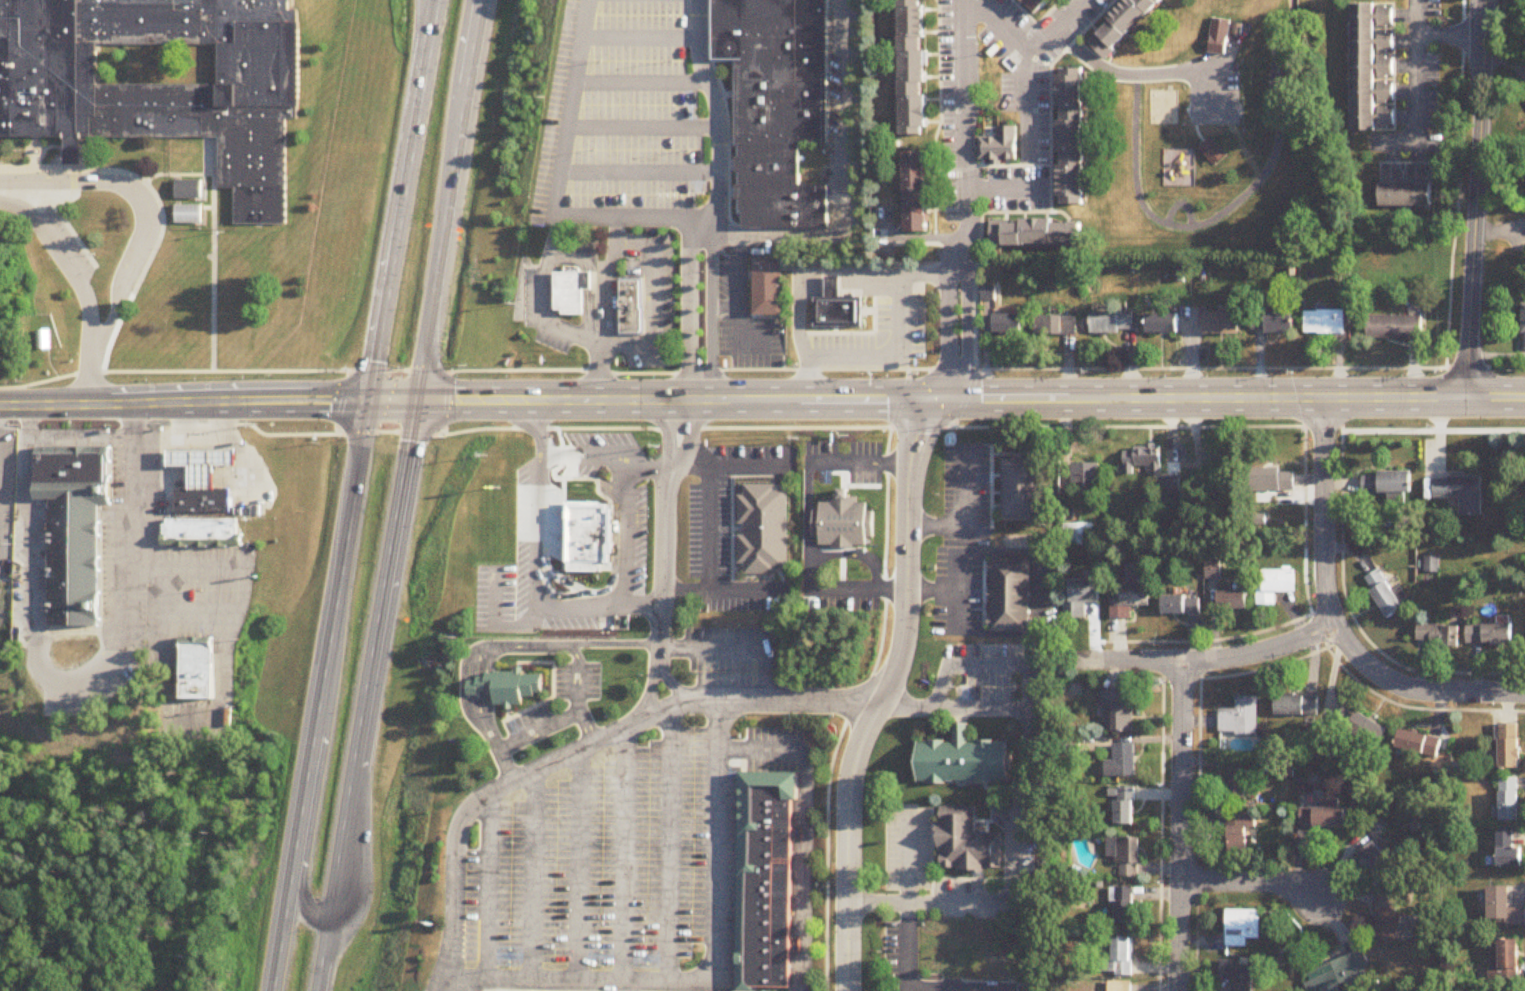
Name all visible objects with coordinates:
building: (1038, 4)
parking lot: (641, 16)
building: (1121, 24)
road: (1036, 26)
road: (1000, 28)
road: (1450, 35)
building: (1219, 38)
road: (641, 41)
road: (5, 43)
parking lot: (637, 61)
building: (1365, 64)
park: (158, 65)
building: (775, 66)
building: (913, 67)
road: (456, 74)
road: (470, 75)
road: (1129, 77)
building: (161, 81)
road: (643, 83)
road: (1415, 92)
road: (730, 96)
parking lot: (638, 107)
park: (1215, 108)
road: (718, 109)
road: (1028, 109)
parking lot: (554, 113)
road: (727, 119)
road: (939, 120)
road: (644, 128)
building: (1073, 130)
park: (1197, 136)
building: (996, 139)
parking lot: (637, 151)
building: (1213, 154)
road: (74, 157)
road: (212, 158)
road: (732, 166)
road: (640, 171)
road: (562, 172)
road: (133, 178)
road: (843, 182)
road: (73, 183)
building: (187, 186)
building: (777, 188)
building: (915, 191)
road: (732, 194)
road: (48, 195)
parking lot: (633, 195)
building: (1403, 195)
road: (194, 199)
road: (1226, 199)
road: (403, 200)
road: (1476, 201)
road: (32, 203)
road: (143, 203)
road: (966, 204)
road: (1051, 207)
building: (187, 210)
road: (1458, 210)
road: (1060, 214)
road: (701, 220)
road: (68, 231)
road: (213, 231)
building: (1033, 233)
road: (912, 239)
road: (61, 261)
road: (733, 267)
road: (437, 276)
road: (813, 282)
building: (765, 283)
road: (590, 285)
building: (569, 289)
road: (656, 296)
parking lot: (651, 297)
road: (547, 300)
road: (723, 300)
building: (629, 302)
road: (606, 310)
road: (689, 310)
road: (713, 310)
building: (837, 310)
parking lot: (546, 311)
parking lot: (743, 316)
building: (1327, 319)
building: (1114, 320)
building: (1223, 320)
building: (1272, 320)
park: (46, 321)
building: (1011, 321)
building: (1063, 322)
building: (1166, 322)
building: (1399, 322)
building: (1524, 328)
road: (743, 339)
parking lot: (874, 339)
building: (44, 341)
road: (895, 348)
road: (1496, 357)
park: (11, 364)
road: (50, 367)
road: (731, 372)
road: (88, 374)
road: (905, 386)
traffic signals: (371, 401)
road: (393, 401)
traffic signals: (415, 401)
road: (734, 401)
road: (1289, 401)
road: (185, 405)
road: (186, 420)
road: (118, 427)
road: (252, 428)
road: (1300, 428)
road: (579, 430)
road: (191, 435)
road: (64, 439)
parking lot: (598, 442)
parking lot: (821, 449)
parking lot: (864, 450)
road: (583, 455)
parking lot: (755, 456)
building: (1144, 458)
building: (204, 462)
road: (644, 470)
road: (730, 470)
building: (73, 472)
parking lot: (574, 473)
building: (1086, 473)
road: (808, 476)
parking lot: (817, 478)
parking lot: (867, 479)
building: (1277, 481)
building: (1023, 484)
building: (1389, 485)
building: (1172, 487)
building: (1462, 492)
building: (204, 500)
road: (134, 515)
road: (968, 517)
road: (351, 520)
building: (843, 520)
parking lot: (553, 522)
building: (757, 523)
road: (659, 527)
building: (200, 531)
building: (583, 531)
road: (707, 531)
parking lot: (691, 532)
parking lot: (721, 532)
road: (622, 534)
building: (1079, 534)
road: (540, 536)
parking lot: (636, 538)
road: (33, 541)
parking lot: (517, 555)
building: (76, 559)
road: (185, 570)
building: (1214, 570)
building: (1277, 586)
road: (859, 590)
road: (723, 592)
road: (933, 592)
building: (1010, 592)
road: (957, 593)
building: (1385, 594)
building: (1083, 596)
parking lot: (482, 599)
building: (1131, 599)
building: (1234, 601)
road: (1346, 602)
park: (446, 605)
building: (1182, 605)
road: (637, 606)
parking lot: (736, 607)
road: (176, 618)
road: (1331, 620)
road: (499, 626)
road: (1318, 633)
parking lot: (729, 635)
building: (1491, 635)
building: (1440, 636)
road: (166, 638)
road: (612, 645)
road: (522, 646)
road: (735, 650)
parking lot: (989, 652)
road: (1220, 658)
road: (371, 659)
park: (1087, 662)
road: (990, 664)
building: (200, 668)
road: (225, 672)
parking lot: (721, 673)
road: (37, 674)
building: (505, 677)
road: (580, 677)
road: (477, 678)
road: (1181, 680)
road: (669, 683)
parking lot: (986, 688)
road: (651, 691)
road: (862, 696)
road: (886, 696)
building: (1297, 706)
building: (1119, 709)
road: (1415, 709)
building: (1240, 722)
road: (486, 726)
building: (1363, 727)
road: (589, 729)
road: (540, 733)
parking lot: (773, 735)
building: (1420, 743)
building: (1510, 747)
road: (582, 751)
building: (963, 756)
building: (1123, 761)
road: (508, 768)
road: (1199, 769)
building: (1237, 783)
road: (320, 785)
building: (769, 789)
building: (1510, 799)
building: (1125, 806)
road: (303, 815)
building: (1324, 816)
road: (1014, 817)
road: (1160, 817)
building: (765, 819)
road: (1179, 826)
building: (1379, 829)
road: (803, 832)
building: (1240, 832)
building: (965, 838)
parking lot: (692, 839)
building: (765, 843)
road: (671, 844)
road: (931, 844)
parking lot: (922, 849)
building: (1128, 850)
parking lot: (891, 851)
building: (1509, 851)
road: (626, 853)
parking lot: (647, 858)
building: (1375, 860)
road: (581, 864)
parking lot: (602, 866)
building: (765, 869)
parking lot: (557, 873)
road: (536, 875)
road: (977, 876)
road: (962, 880)
road: (1249, 884)
parking lot: (512, 885)
road: (490, 886)
parking lot: (960, 888)
building: (764, 898)
building: (1126, 906)
parking lot: (474, 907)
building: (1504, 908)
building: (1390, 918)
building: (763, 926)
road: (905, 926)
building: (1244, 928)
building: (763, 951)
road: (322, 955)
building: (1120, 959)
building: (1510, 960)
road: (715, 973)
building: (1239, 974)
building: (1340, 975)
building: (763, 976)
road: (450, 984)
road: (4, 985)
building: (1121, 986)
road: (904, 990)

